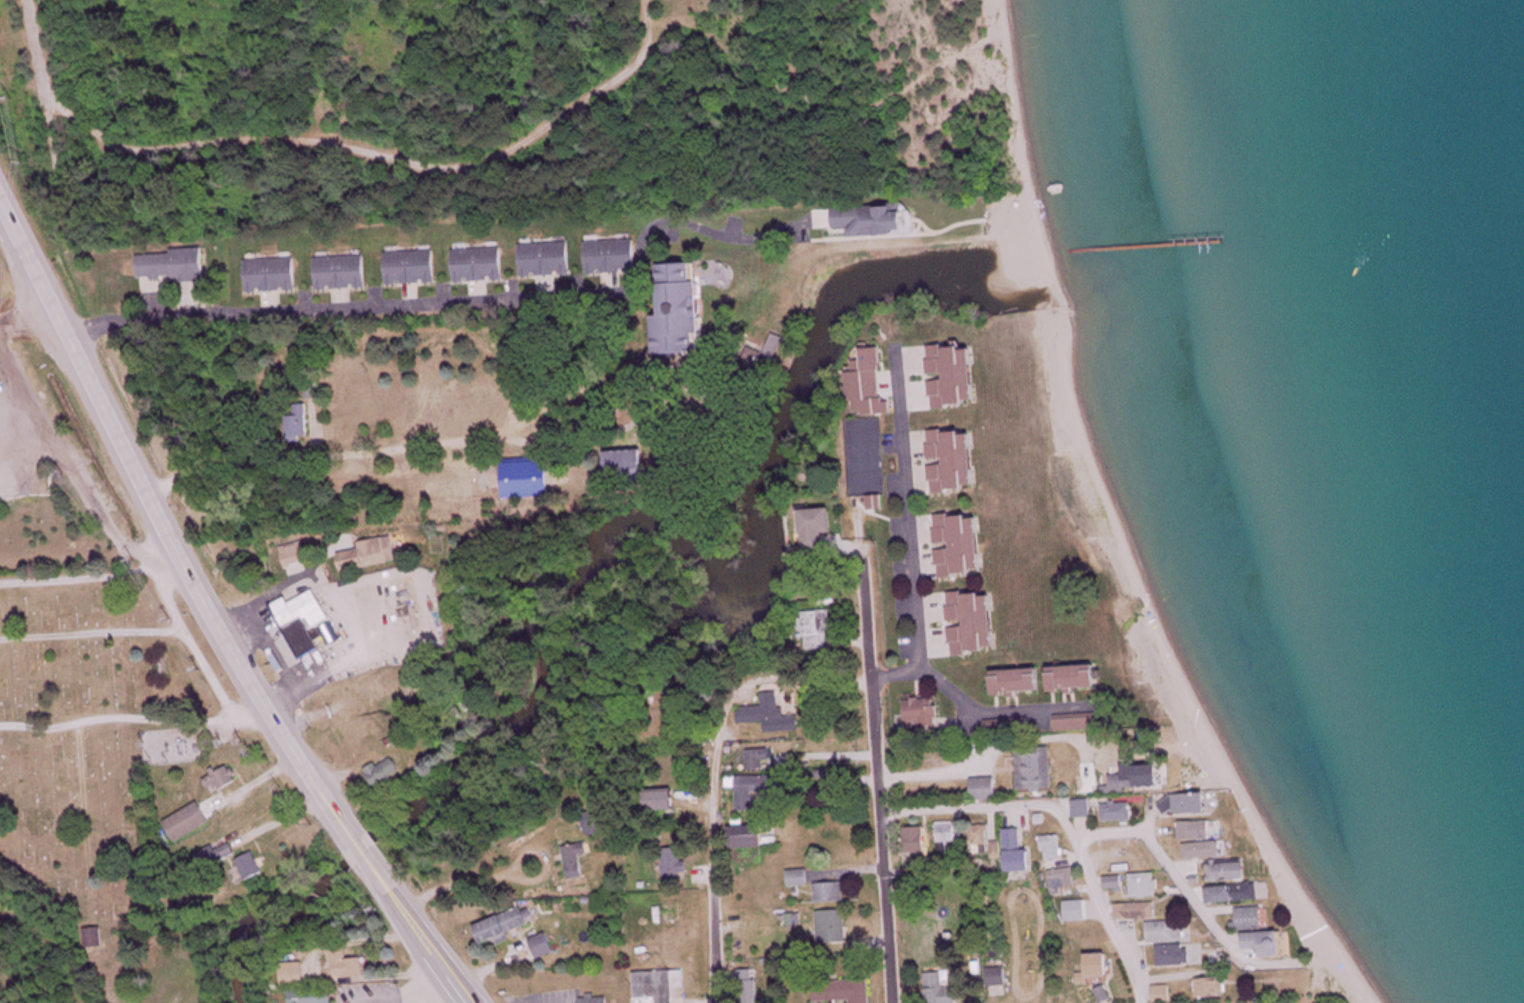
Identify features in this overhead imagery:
road: (41, 80)
park: (520, 106)
road: (380, 155)
building: (876, 219)
building: (613, 257)
building: (548, 259)
building: (175, 265)
building: (481, 265)
building: (413, 268)
building: (343, 273)
building: (273, 275)
road: (350, 309)
building: (683, 311)
building: (770, 343)
building: (945, 378)
building: (872, 385)
building: (298, 423)
road: (575, 442)
park: (867, 457)
building: (956, 462)
building: (629, 467)
building: (819, 531)
building: (962, 547)
building: (297, 555)
building: (372, 556)
road: (212, 614)
building: (304, 622)
building: (975, 624)
building: (819, 630)
building: (1077, 679)
building: (1020, 683)
building: (772, 716)
building: (923, 716)
building: (1006, 725)
power substation: (173, 747)
building: (1039, 769)
building: (385, 772)
road: (932, 775)
road: (881, 778)
building: (223, 781)
building: (1125, 784)
building: (755, 789)
building: (987, 789)
building: (663, 800)
road: (989, 805)
building: (1193, 805)
building: (1121, 813)
building: (188, 823)
building: (1199, 831)
building: (947, 835)
building: (751, 837)
building: (982, 837)
building: (917, 841)
building: (1054, 849)
building: (1205, 851)
building: (1019, 854)
building: (578, 857)
building: (676, 865)
building: (252, 866)
building: (1231, 872)
road: (712, 876)
building: (800, 879)
building: (1065, 880)
building: (1118, 883)
building: (1148, 886)
building: (832, 894)
building: (1235, 895)
road: (1196, 899)
building: (1138, 913)
building: (1254, 920)
road: (1111, 922)
building: (503, 928)
building: (834, 929)
building: (1170, 933)
building: (95, 939)
building: (1271, 946)
building: (545, 947)
building: (1178, 957)
building: (347, 966)
building: (1101, 966)
building: (295, 975)
building: (998, 979)
building: (661, 987)
building: (749, 987)
building: (941, 990)
building: (1214, 990)
building: (844, 992)
building: (1164, 995)
road: (411, 996)
building: (314, 997)
building: (597, 1001)

